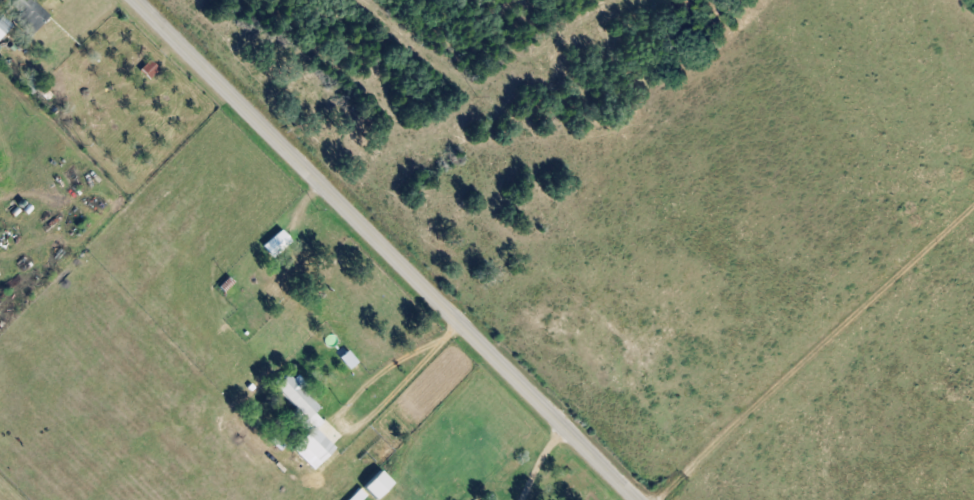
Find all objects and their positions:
building: (28, 14)
building: (3, 25)
building: (148, 69)
building: (274, 244)
road: (384, 248)
building: (346, 359)
building: (304, 422)
road: (356, 422)
building: (375, 484)
building: (356, 496)

